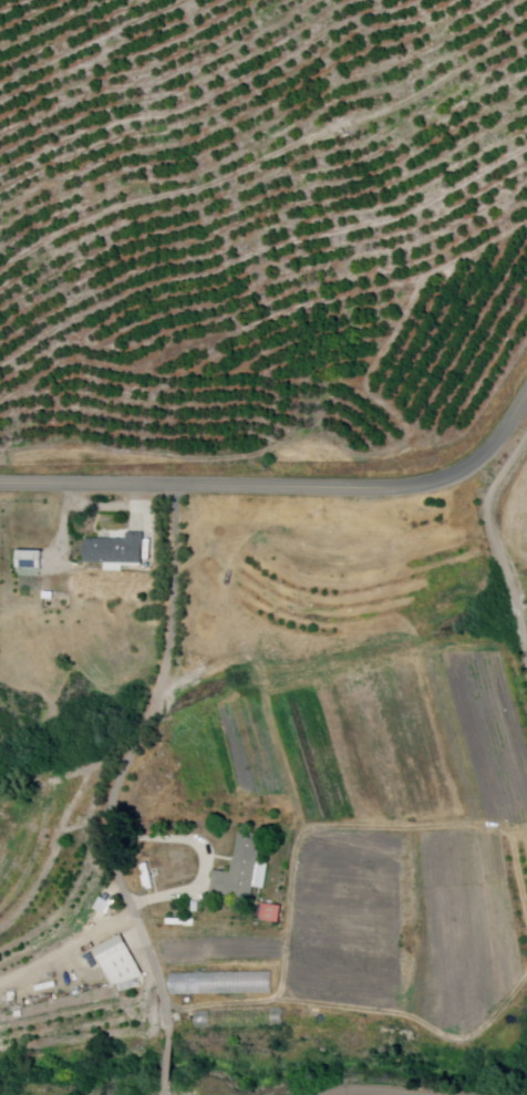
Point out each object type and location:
road: (285, 486)
crop: (519, 520)
building: (333, 523)
building: (294, 529)
road: (496, 539)
building: (116, 551)
building: (29, 558)
crop: (360, 582)
building: (48, 595)
crop: (371, 742)
road: (130, 762)
building: (240, 871)
crop: (46, 874)
building: (104, 908)
building: (271, 915)
crop: (349, 921)
crop: (466, 929)
building: (120, 961)
crop: (226, 964)
building: (241, 1019)
crop: (79, 1024)
road: (170, 1060)

